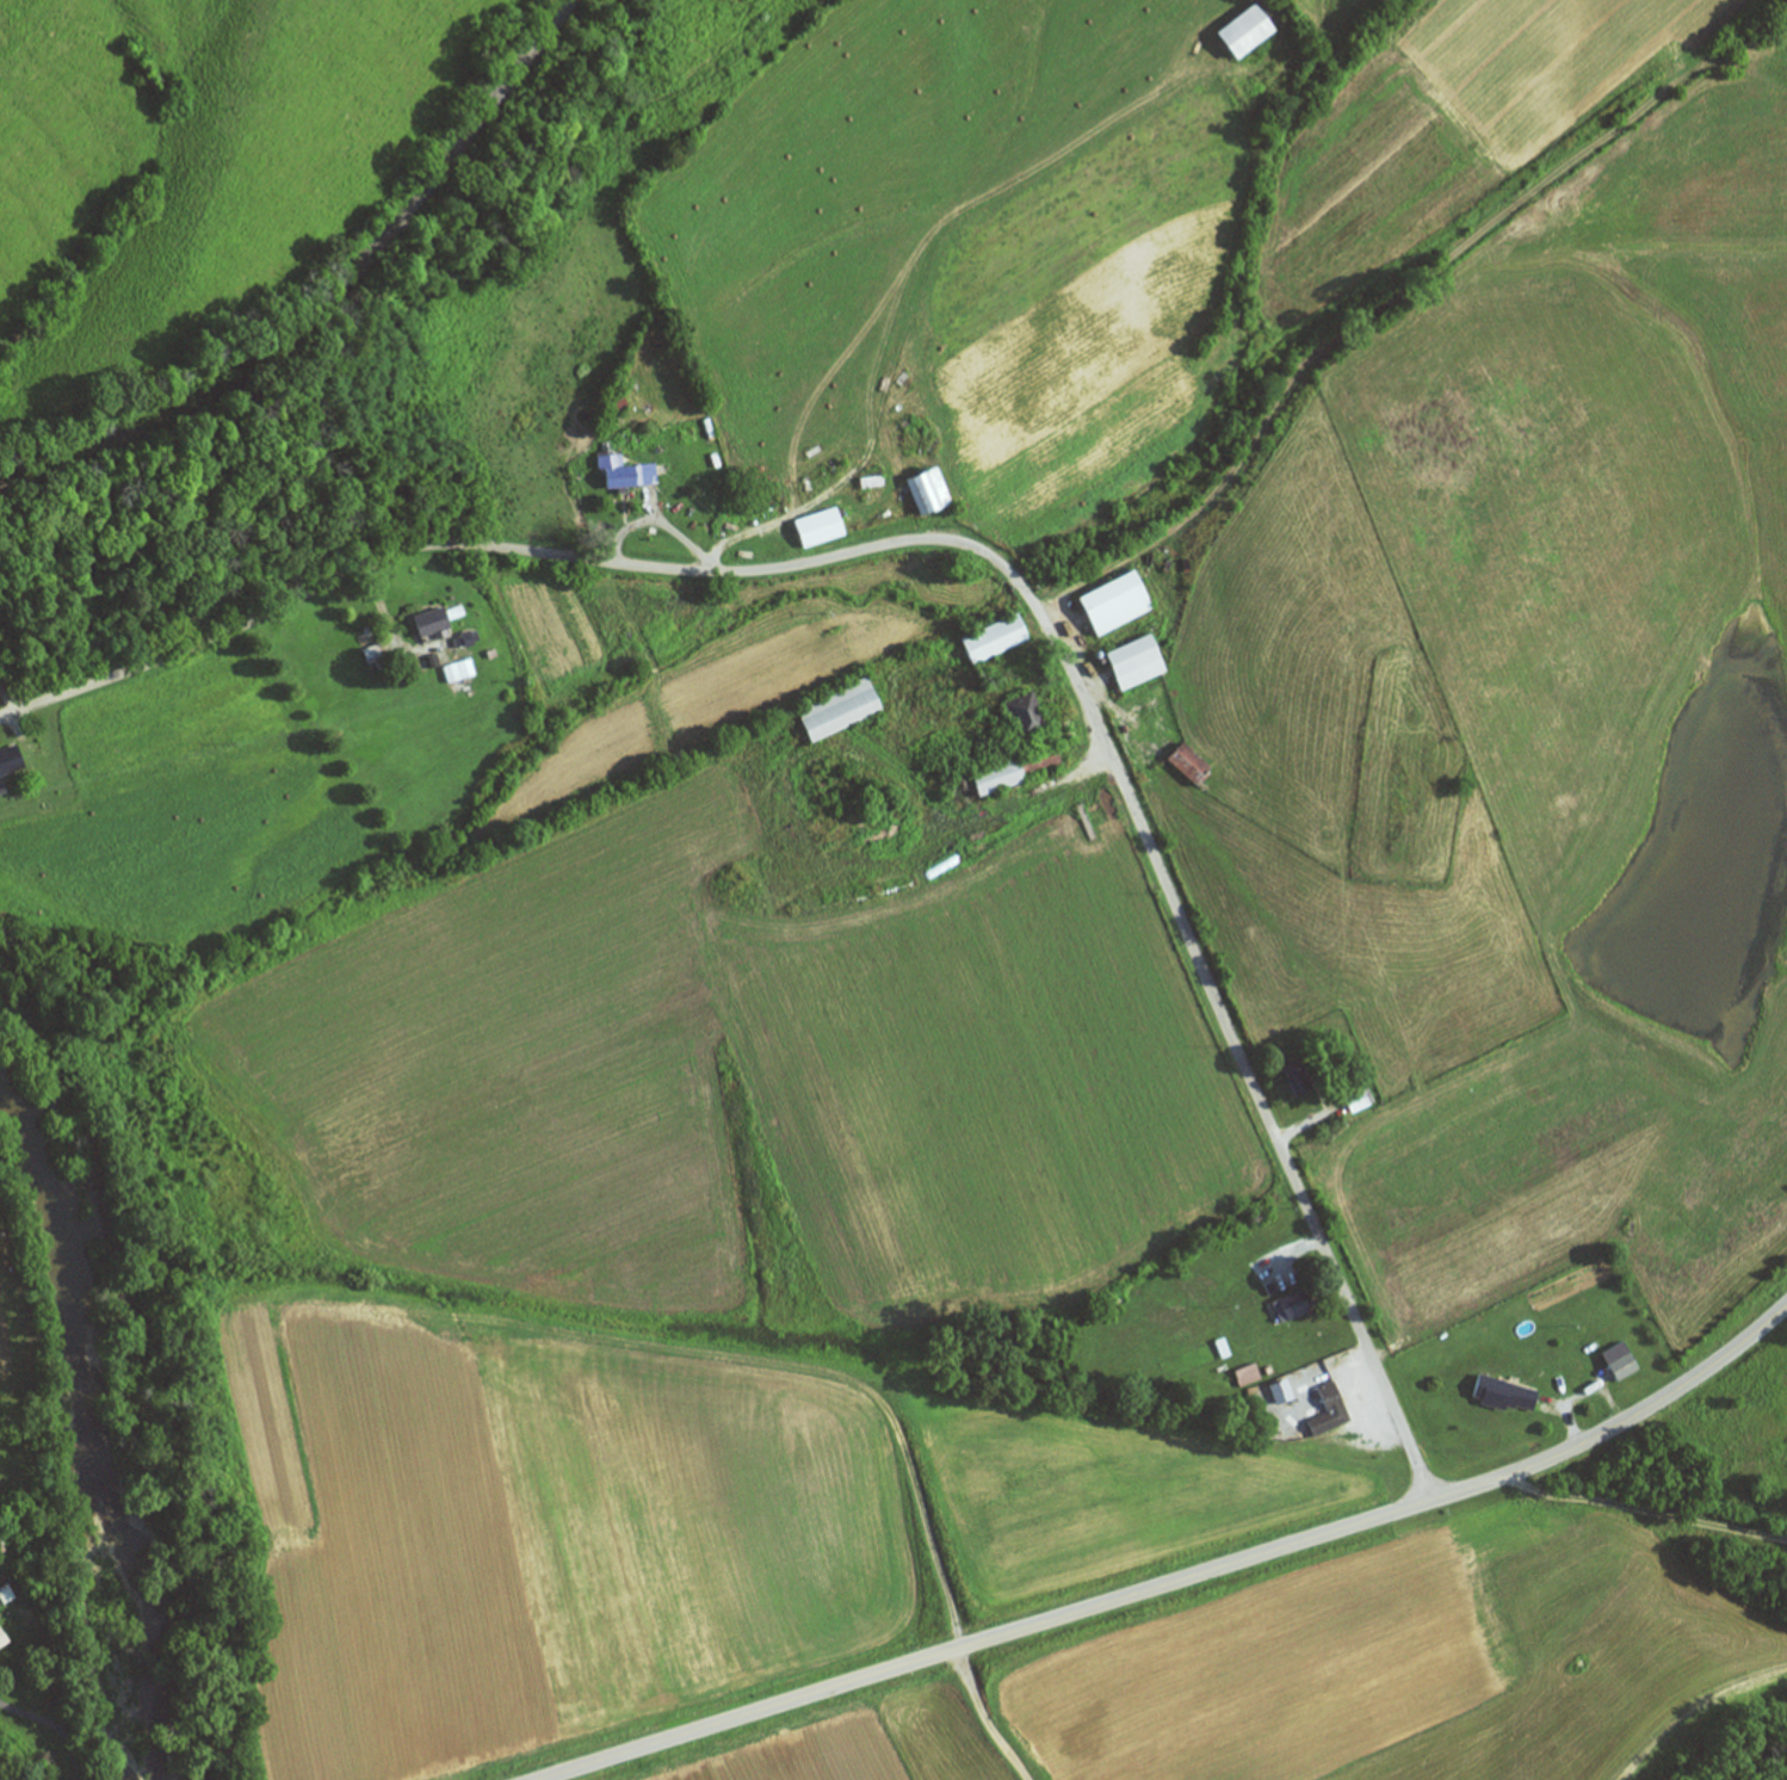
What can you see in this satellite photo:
building: (1245, 30)
railway: (330, 297)
road: (1406, 347)
building: (626, 472)
building: (929, 490)
building: (820, 527)
road: (995, 561)
building: (1115, 602)
building: (433, 625)
building: (996, 638)
building: (1137, 662)
building: (839, 710)
building: (1027, 716)
building: (11, 761)
building: (1191, 764)
building: (1019, 771)
building: (1408, 798)
building: (1361, 1100)
building: (1292, 1306)
building: (1625, 1366)
road: (853, 1386)
building: (1282, 1390)
building: (1507, 1395)
building: (1330, 1411)
river: (82, 1426)
road: (1608, 1543)
road: (1177, 1580)
building: (2, 1640)

